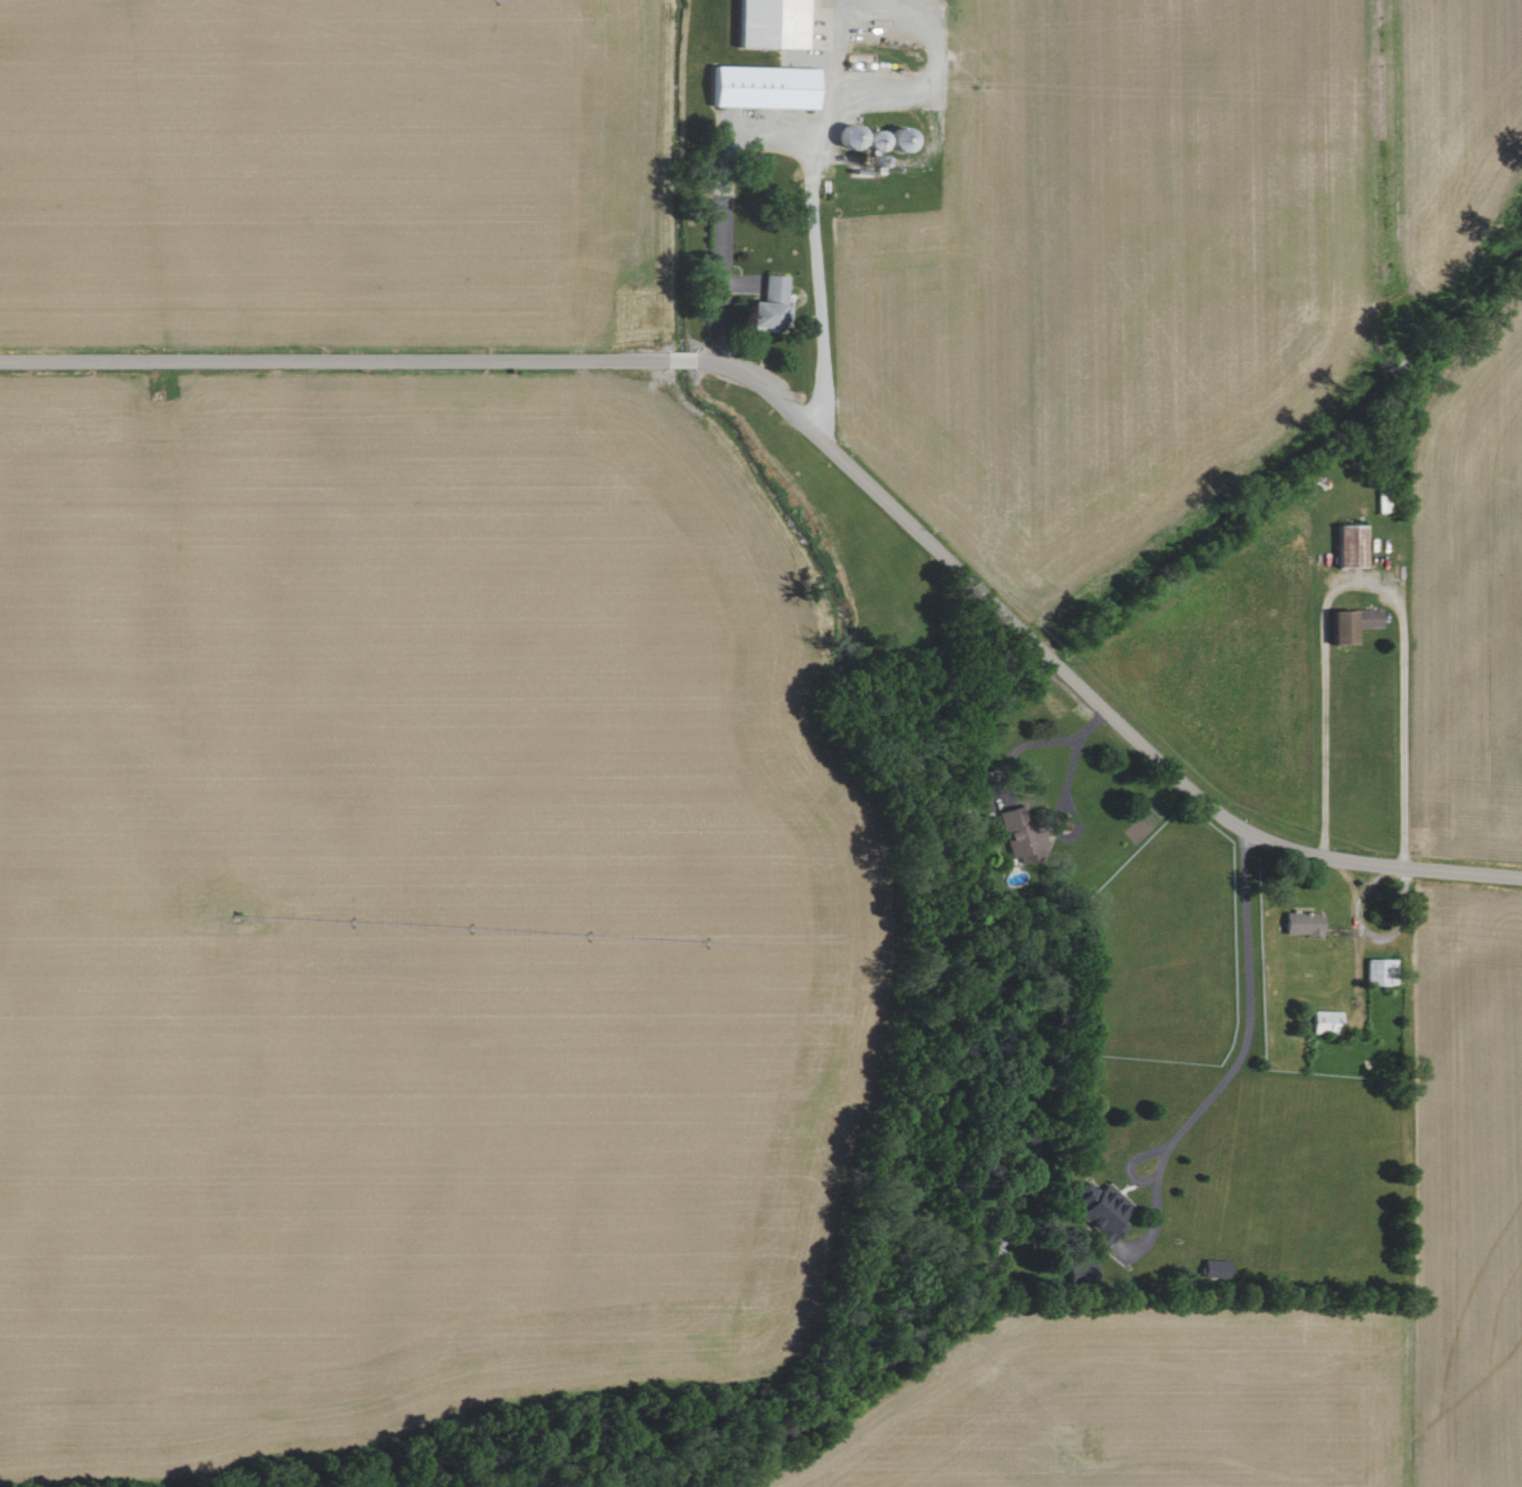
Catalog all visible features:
building: (766, 24)
road: (833, 73)
building: (759, 87)
road: (798, 140)
building: (763, 305)
road: (825, 440)
building: (1347, 547)
road: (1367, 585)
road: (1020, 745)
road: (1072, 760)
building: (1019, 834)
building: (1300, 923)
building: (1377, 971)
road: (1248, 1010)
building: (1321, 1022)
building: (1100, 1211)

